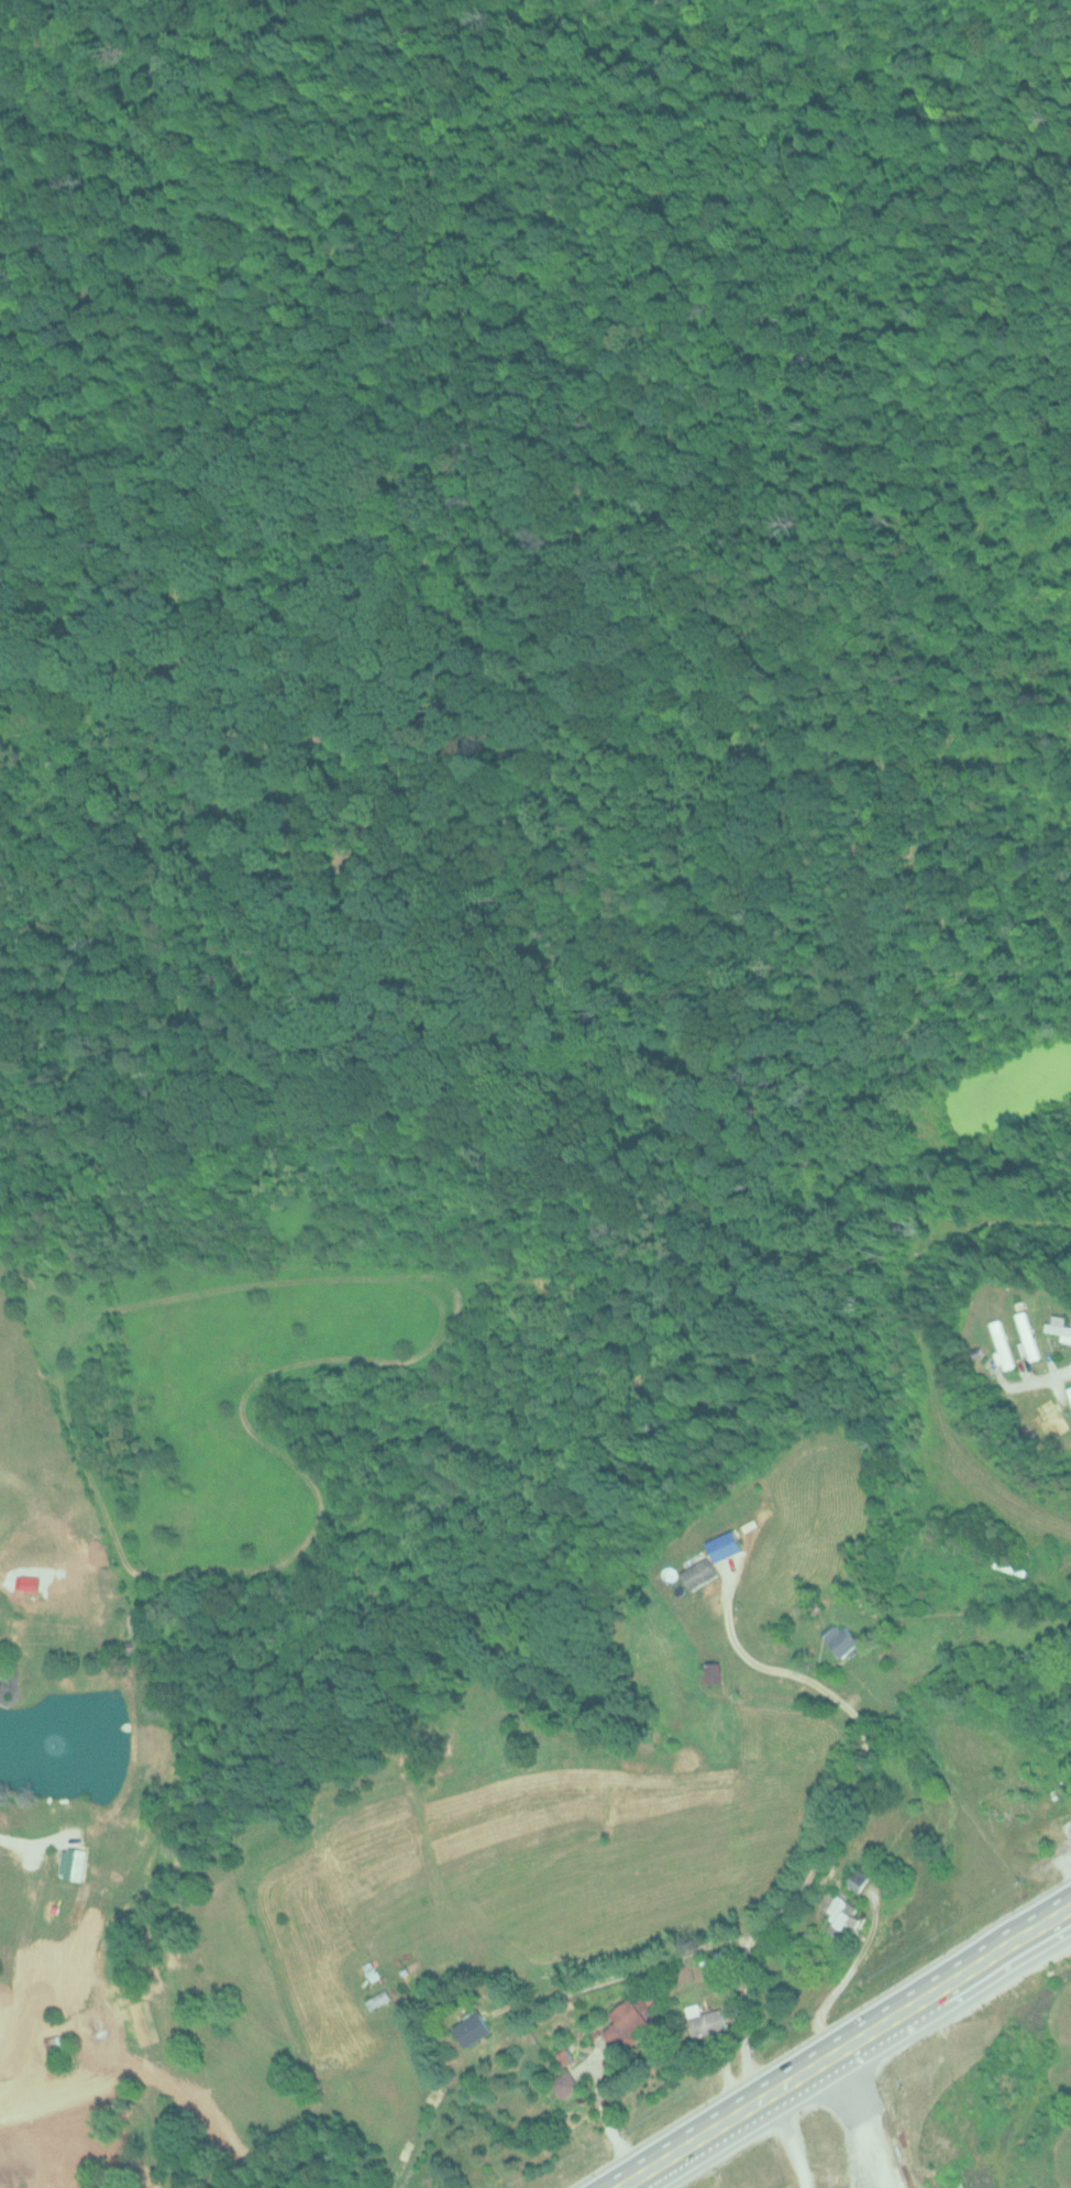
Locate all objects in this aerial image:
building: (1028, 1335)
building: (1002, 1344)
road: (1047, 1368)
building: (1069, 1392)
building: (1052, 1416)
building: (698, 1572)
building: (840, 1637)
building: (713, 1671)
road: (35, 1838)
building: (73, 1861)
building: (854, 1877)
building: (842, 1914)
building: (377, 1998)
building: (628, 2017)
building: (704, 2021)
building: (472, 2028)
road: (833, 2038)
road: (806, 2121)

